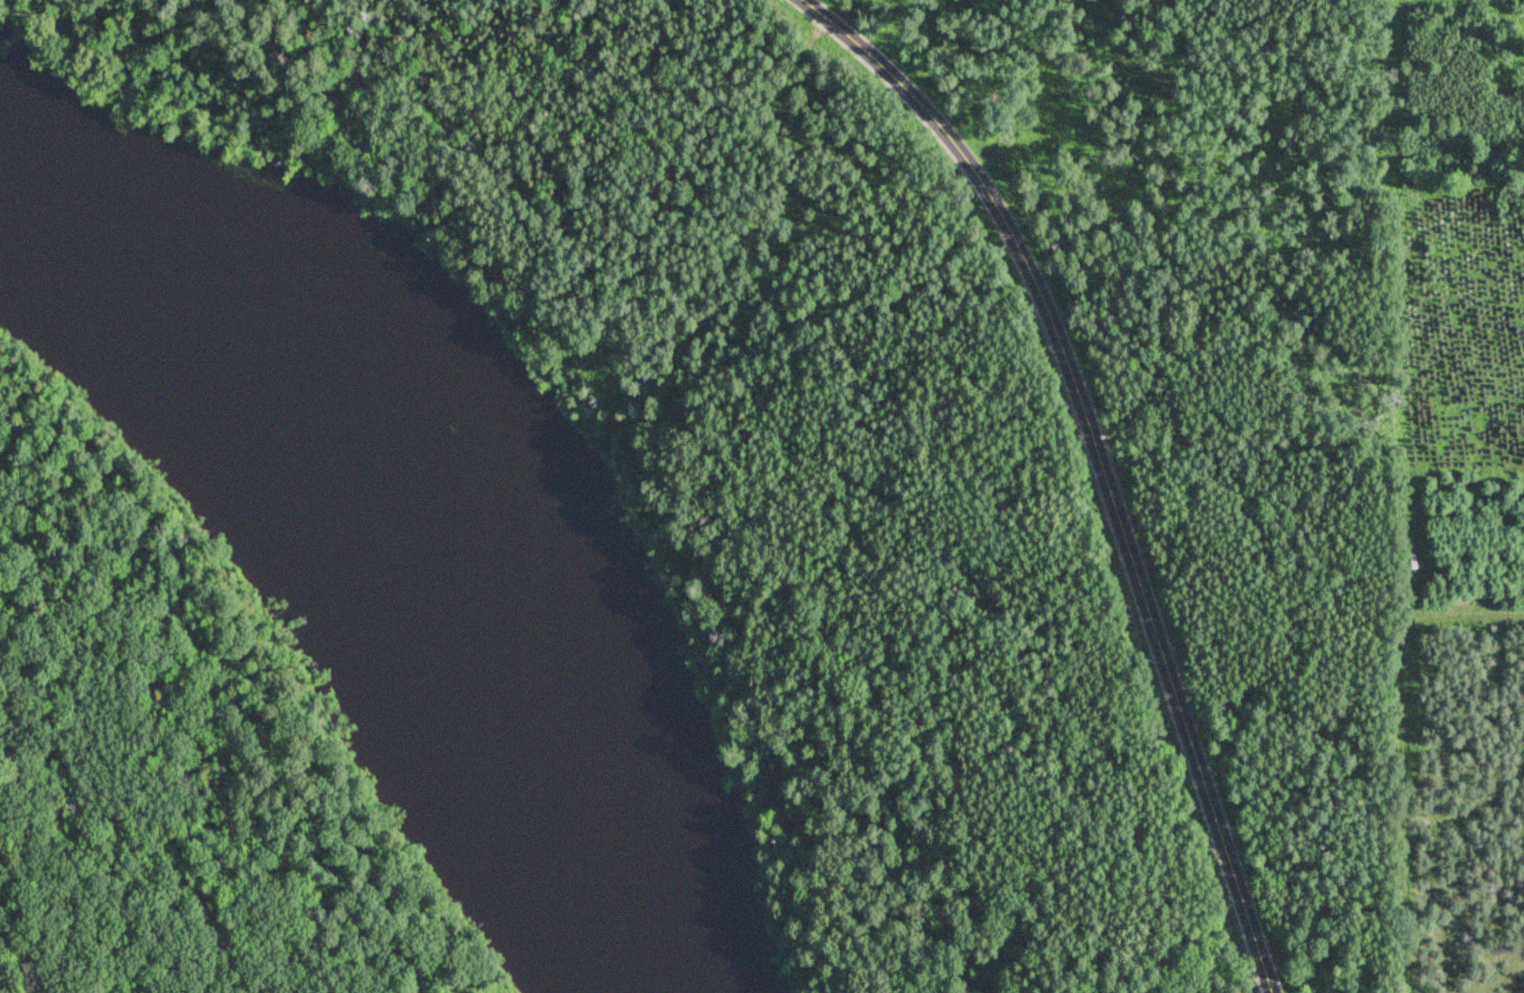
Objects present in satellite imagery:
park: (822, 439)
road: (1099, 461)
river: (367, 565)
park: (172, 763)
road: (134, 844)

